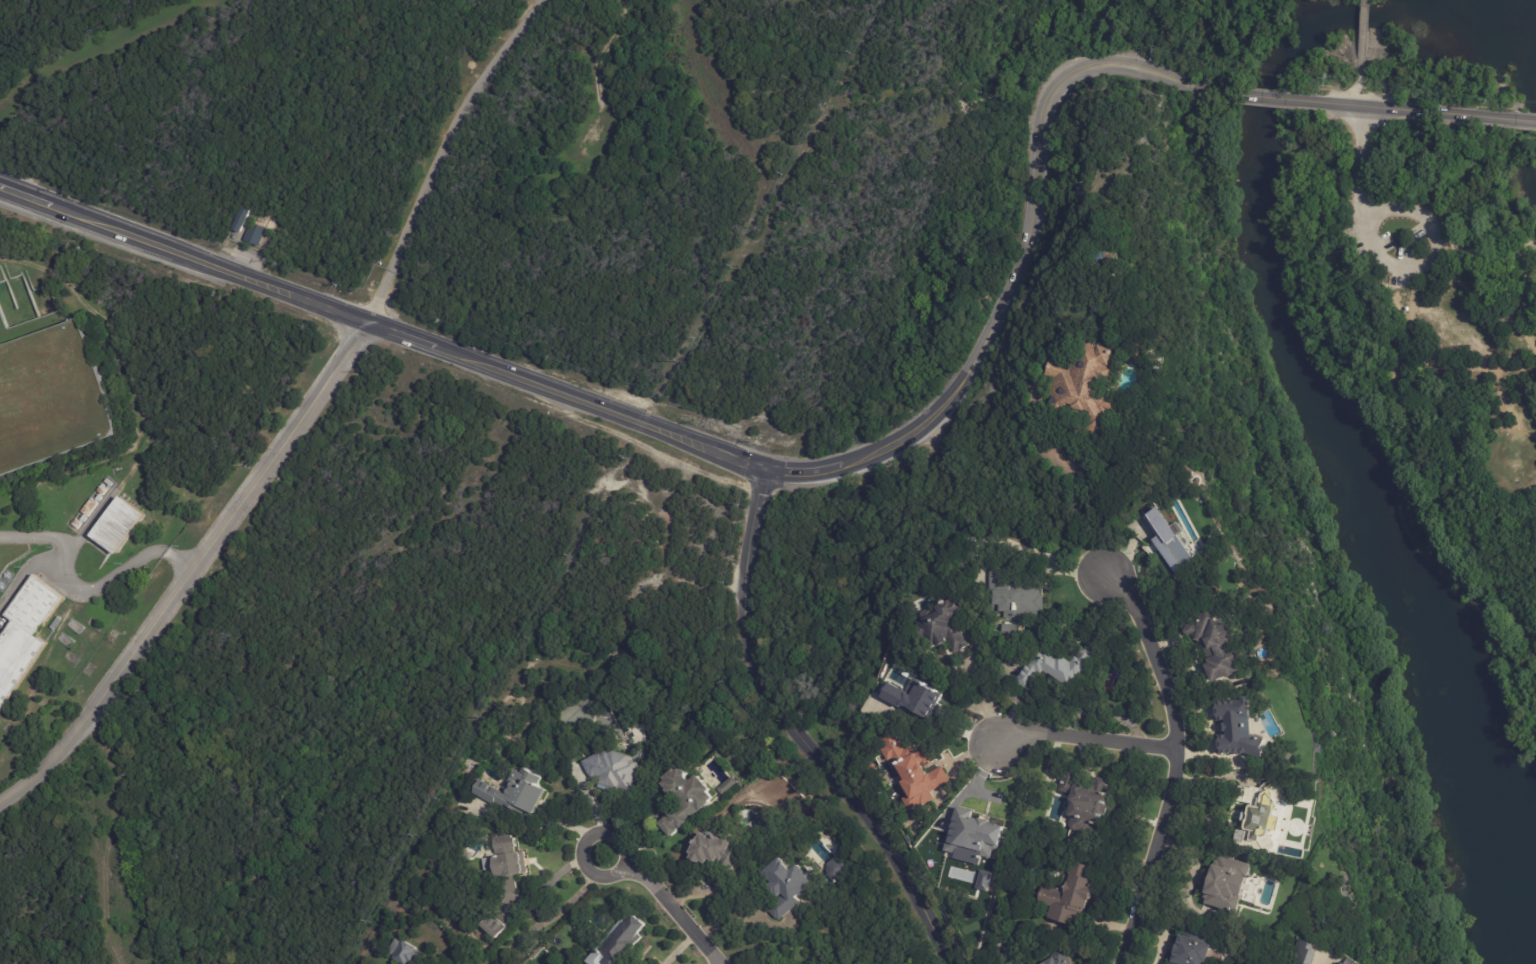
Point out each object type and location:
road: (1364, 3)
road: (1363, 18)
road: (99, 48)
road: (1280, 99)
road: (1408, 110)
road: (1514, 120)
road: (444, 155)
parking lot: (1394, 196)
building: (241, 219)
road: (1365, 222)
building: (256, 235)
road: (1023, 252)
road: (1522, 265)
parking lot: (1401, 279)
park: (1428, 309)
road: (381, 328)
building: (1146, 354)
road: (1473, 373)
building: (1090, 381)
road: (1519, 431)
wastewater plant: (114, 460)
road: (1430, 466)
road: (1496, 475)
building: (109, 482)
building: (103, 489)
building: (92, 507)
road: (1103, 516)
building: (121, 524)
building: (78, 525)
building: (1176, 542)
road: (1126, 550)
road: (195, 572)
building: (8, 576)
building: (2, 586)
road: (86, 590)
building: (1010, 597)
building: (58, 623)
building: (942, 627)
building: (1007, 631)
building: (27, 635)
building: (1211, 644)
building: (1053, 669)
building: (913, 697)
road: (985, 702)
building: (1236, 728)
road: (791, 731)
road: (1084, 739)
road: (1176, 762)
building: (618, 771)
building: (910, 772)
building: (728, 785)
building: (733, 785)
building: (515, 792)
building: (689, 800)
building: (1084, 802)
road: (595, 811)
building: (1257, 814)
building: (964, 835)
building: (715, 849)
building: (509, 863)
building: (840, 869)
building: (792, 886)
building: (1225, 888)
building: (1068, 896)
road: (666, 903)
road: (555, 915)
building: (1325, 924)
building: (495, 926)
building: (1055, 926)
building: (623, 945)
building: (1193, 947)
road: (675, 948)
building: (405, 953)
building: (1301, 953)
building: (1056, 960)
building: (1348, 962)
building: (1011, 963)
building: (1023, 963)
building: (1341, 963)

